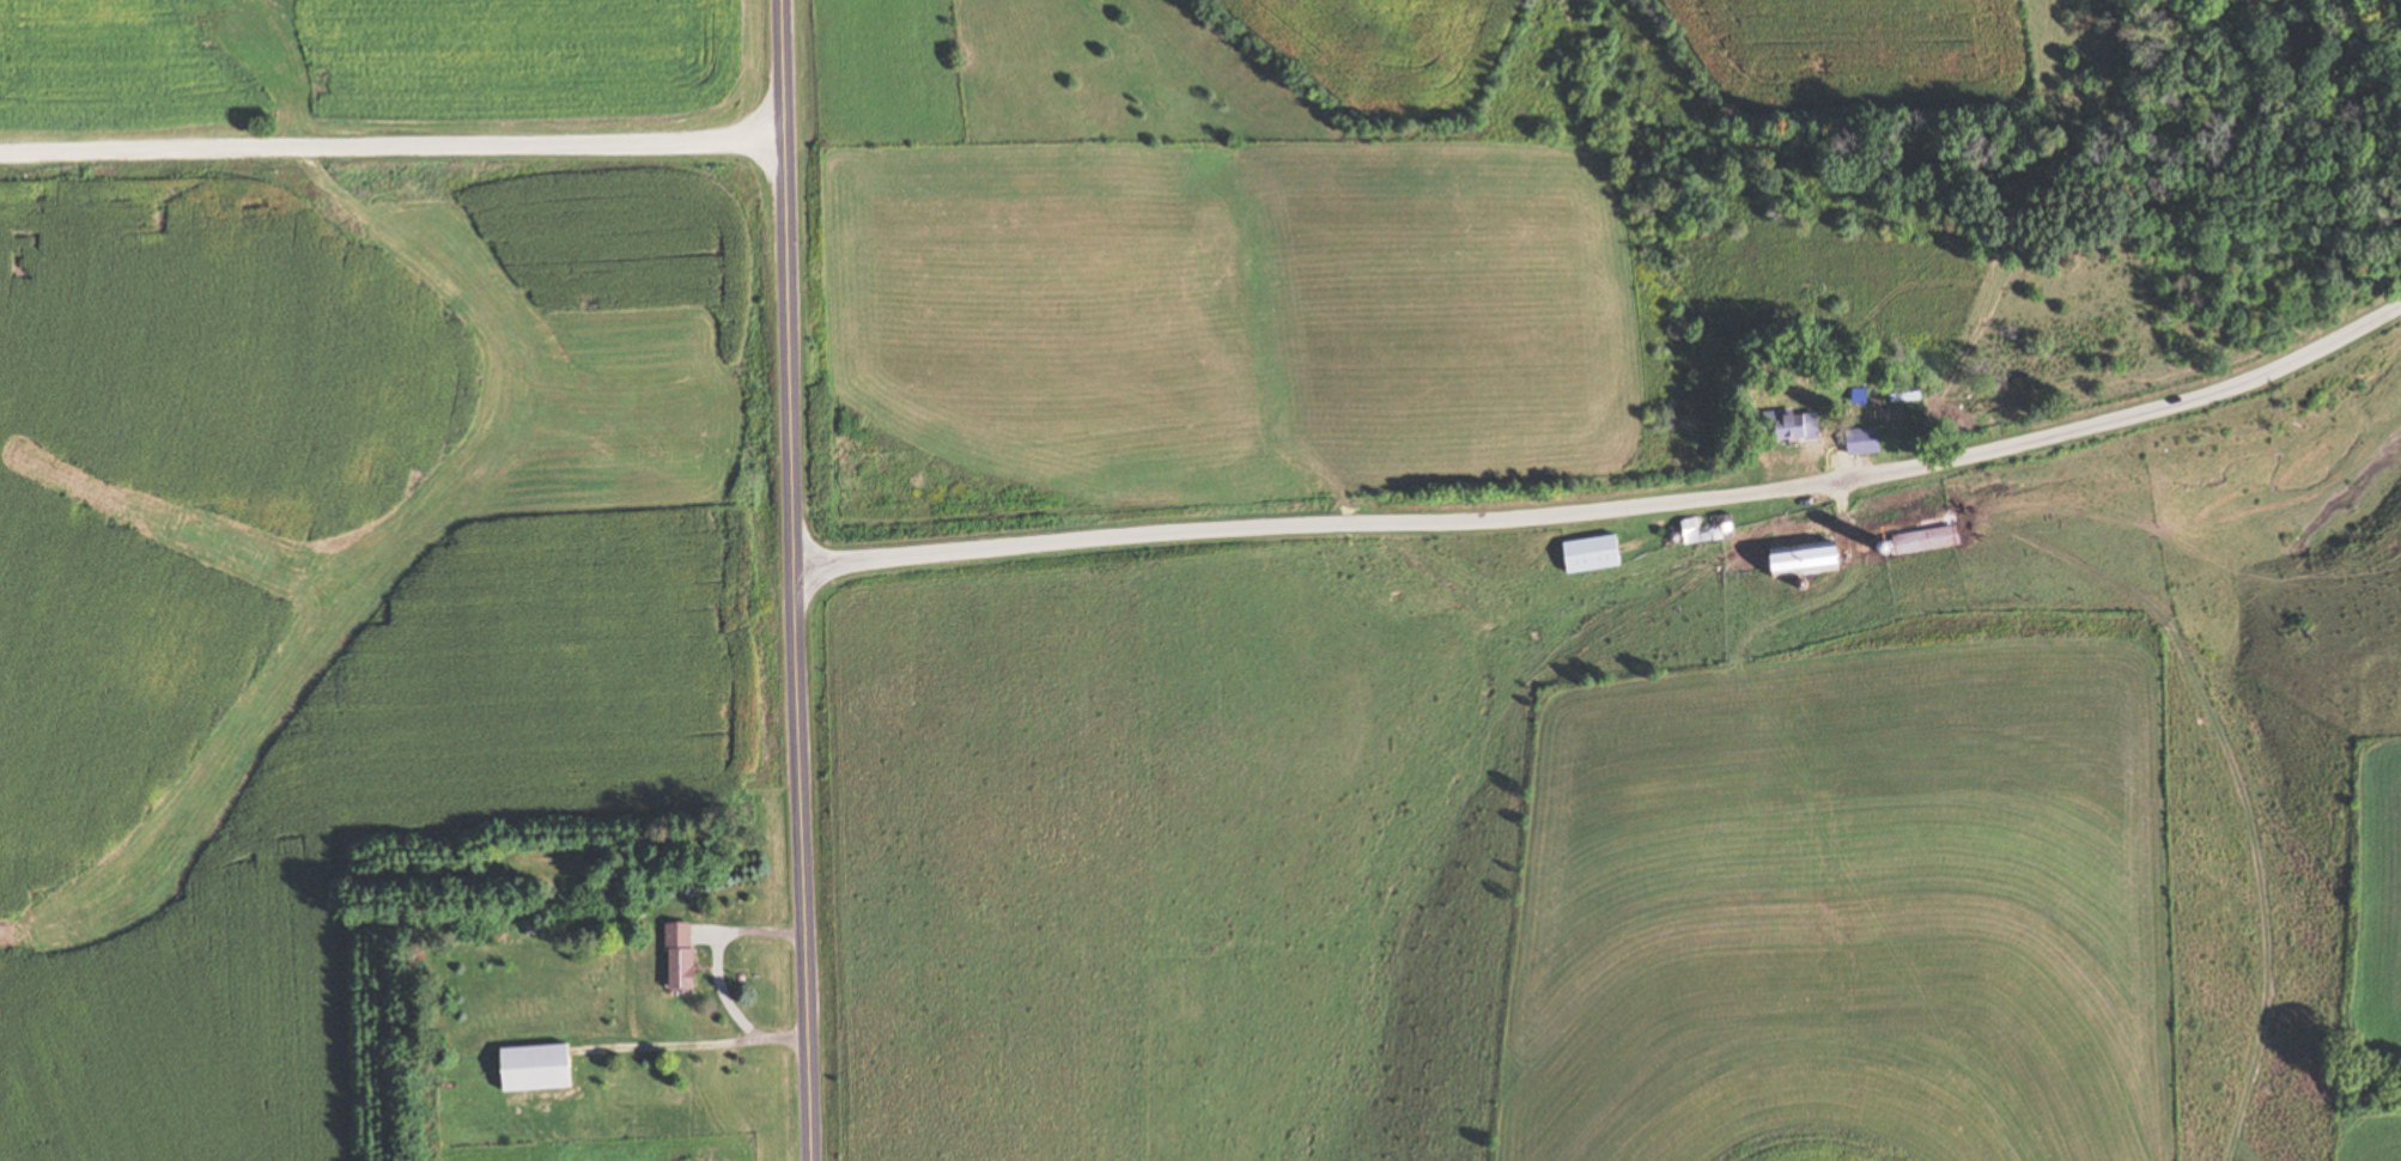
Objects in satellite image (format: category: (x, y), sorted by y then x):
crop: (1380, 51)
crop: (1908, 59)
crop: (1037, 73)
road: (390, 147)
crop: (1226, 318)
building: (1788, 428)
building: (1856, 442)
road: (1611, 509)
building: (1925, 540)
building: (1584, 555)
building: (1797, 561)
road: (791, 580)
crop: (1849, 904)
building: (682, 958)
crop: (2370, 961)
road: (717, 973)
building: (541, 1070)

